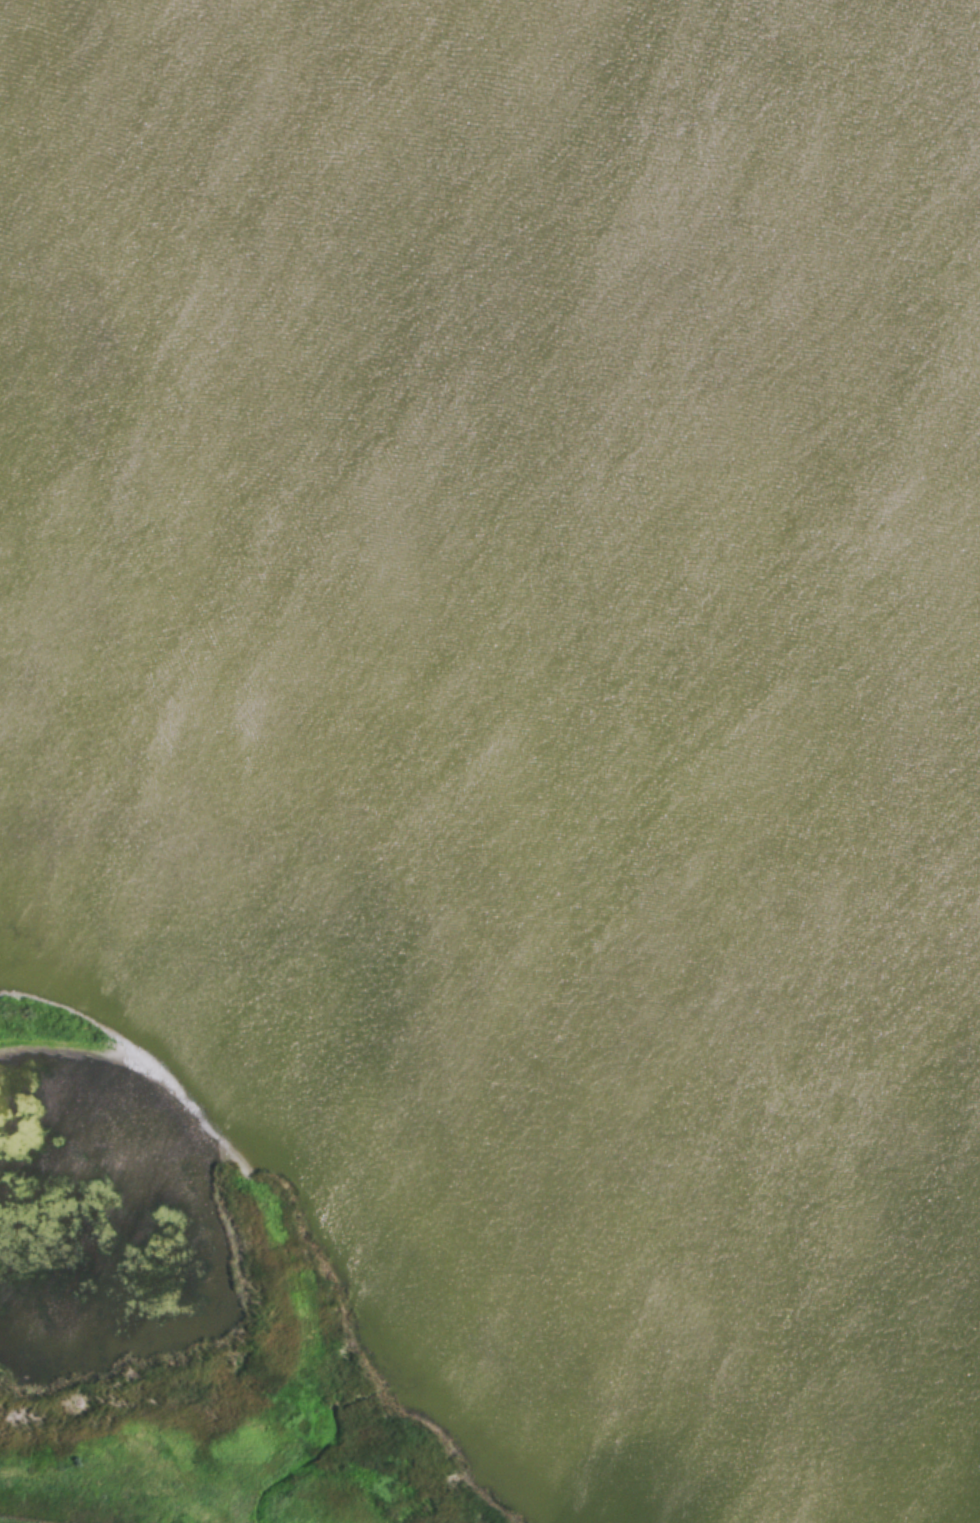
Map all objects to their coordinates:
power tower: (45, 1440)

